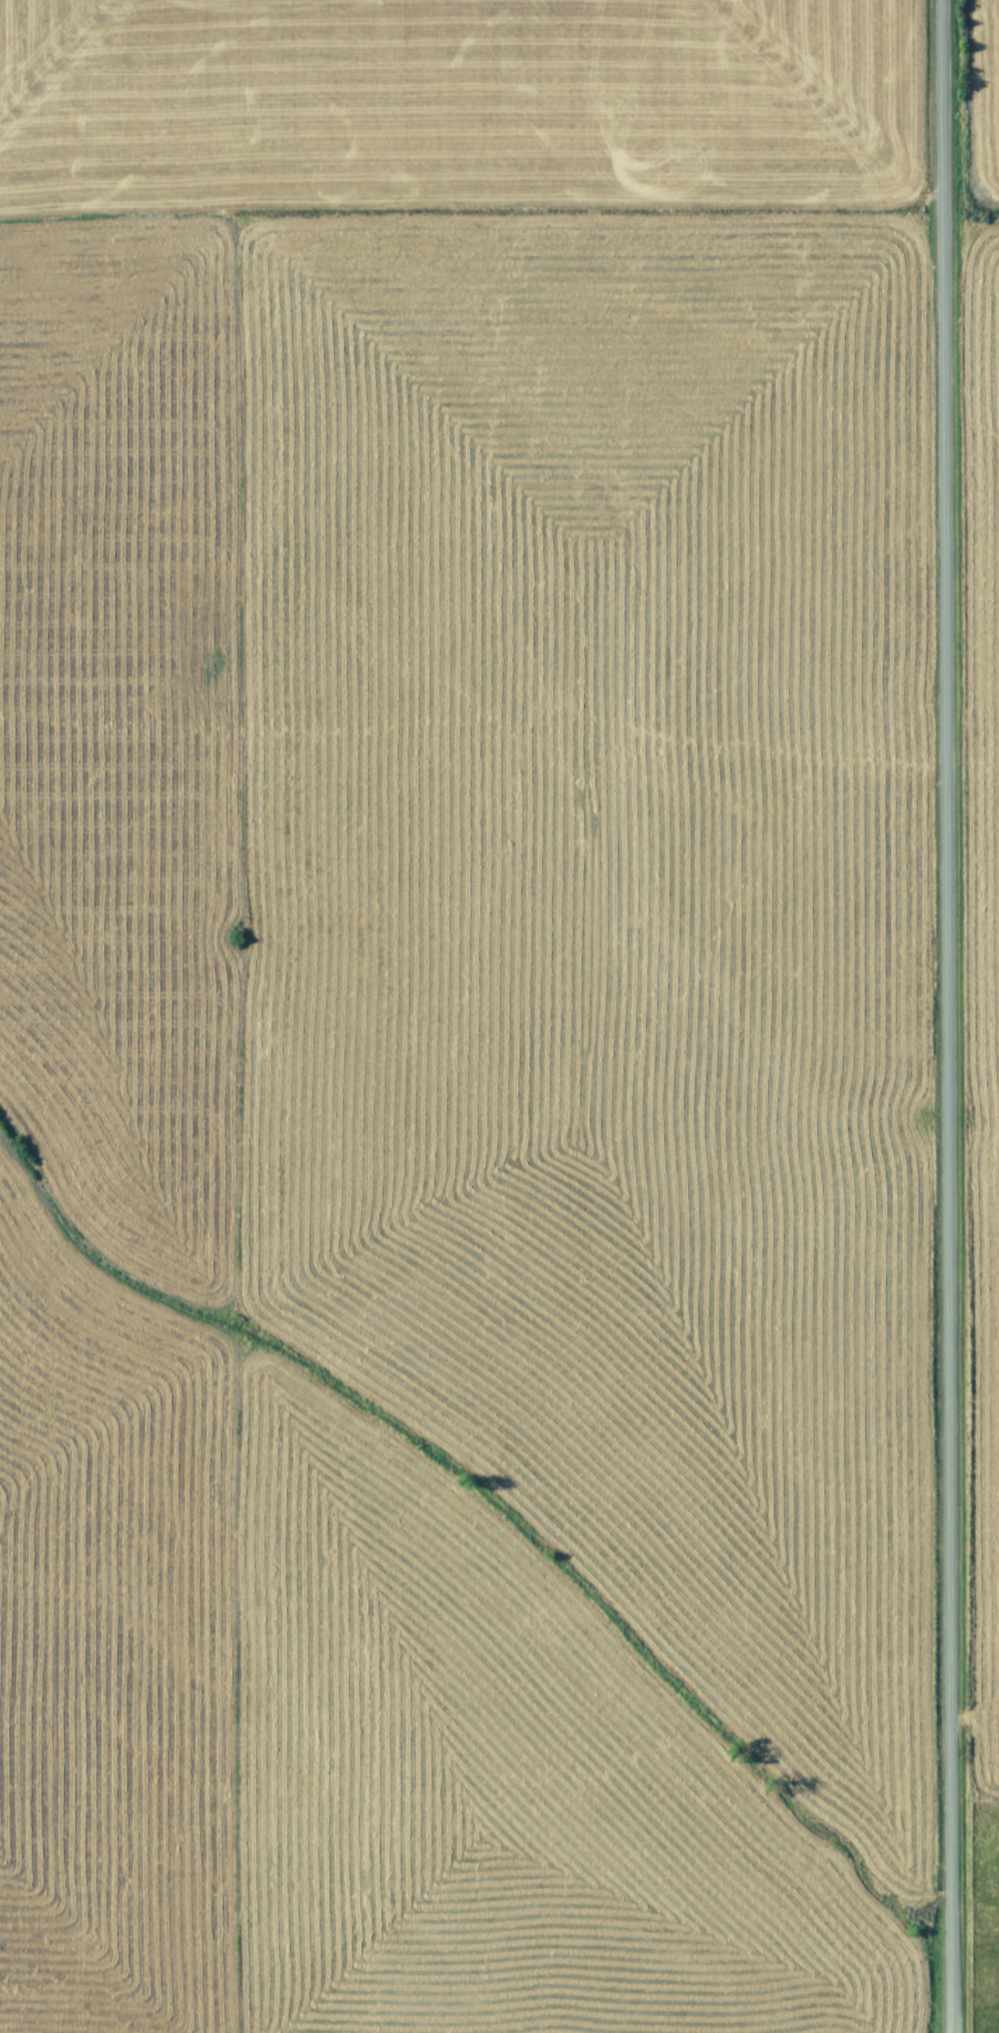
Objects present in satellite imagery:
crop: (499, 1016)
road: (941, 1016)

